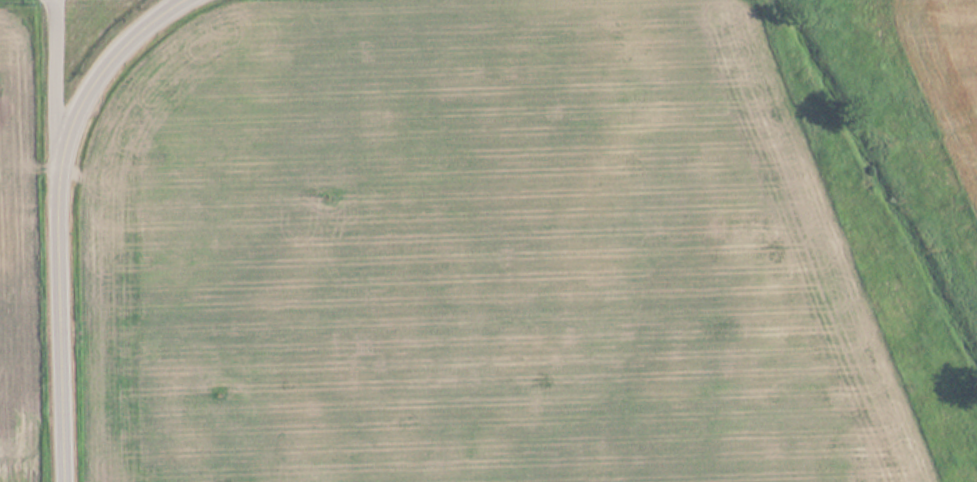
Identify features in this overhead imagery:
road: (116, 55)
road: (58, 240)

